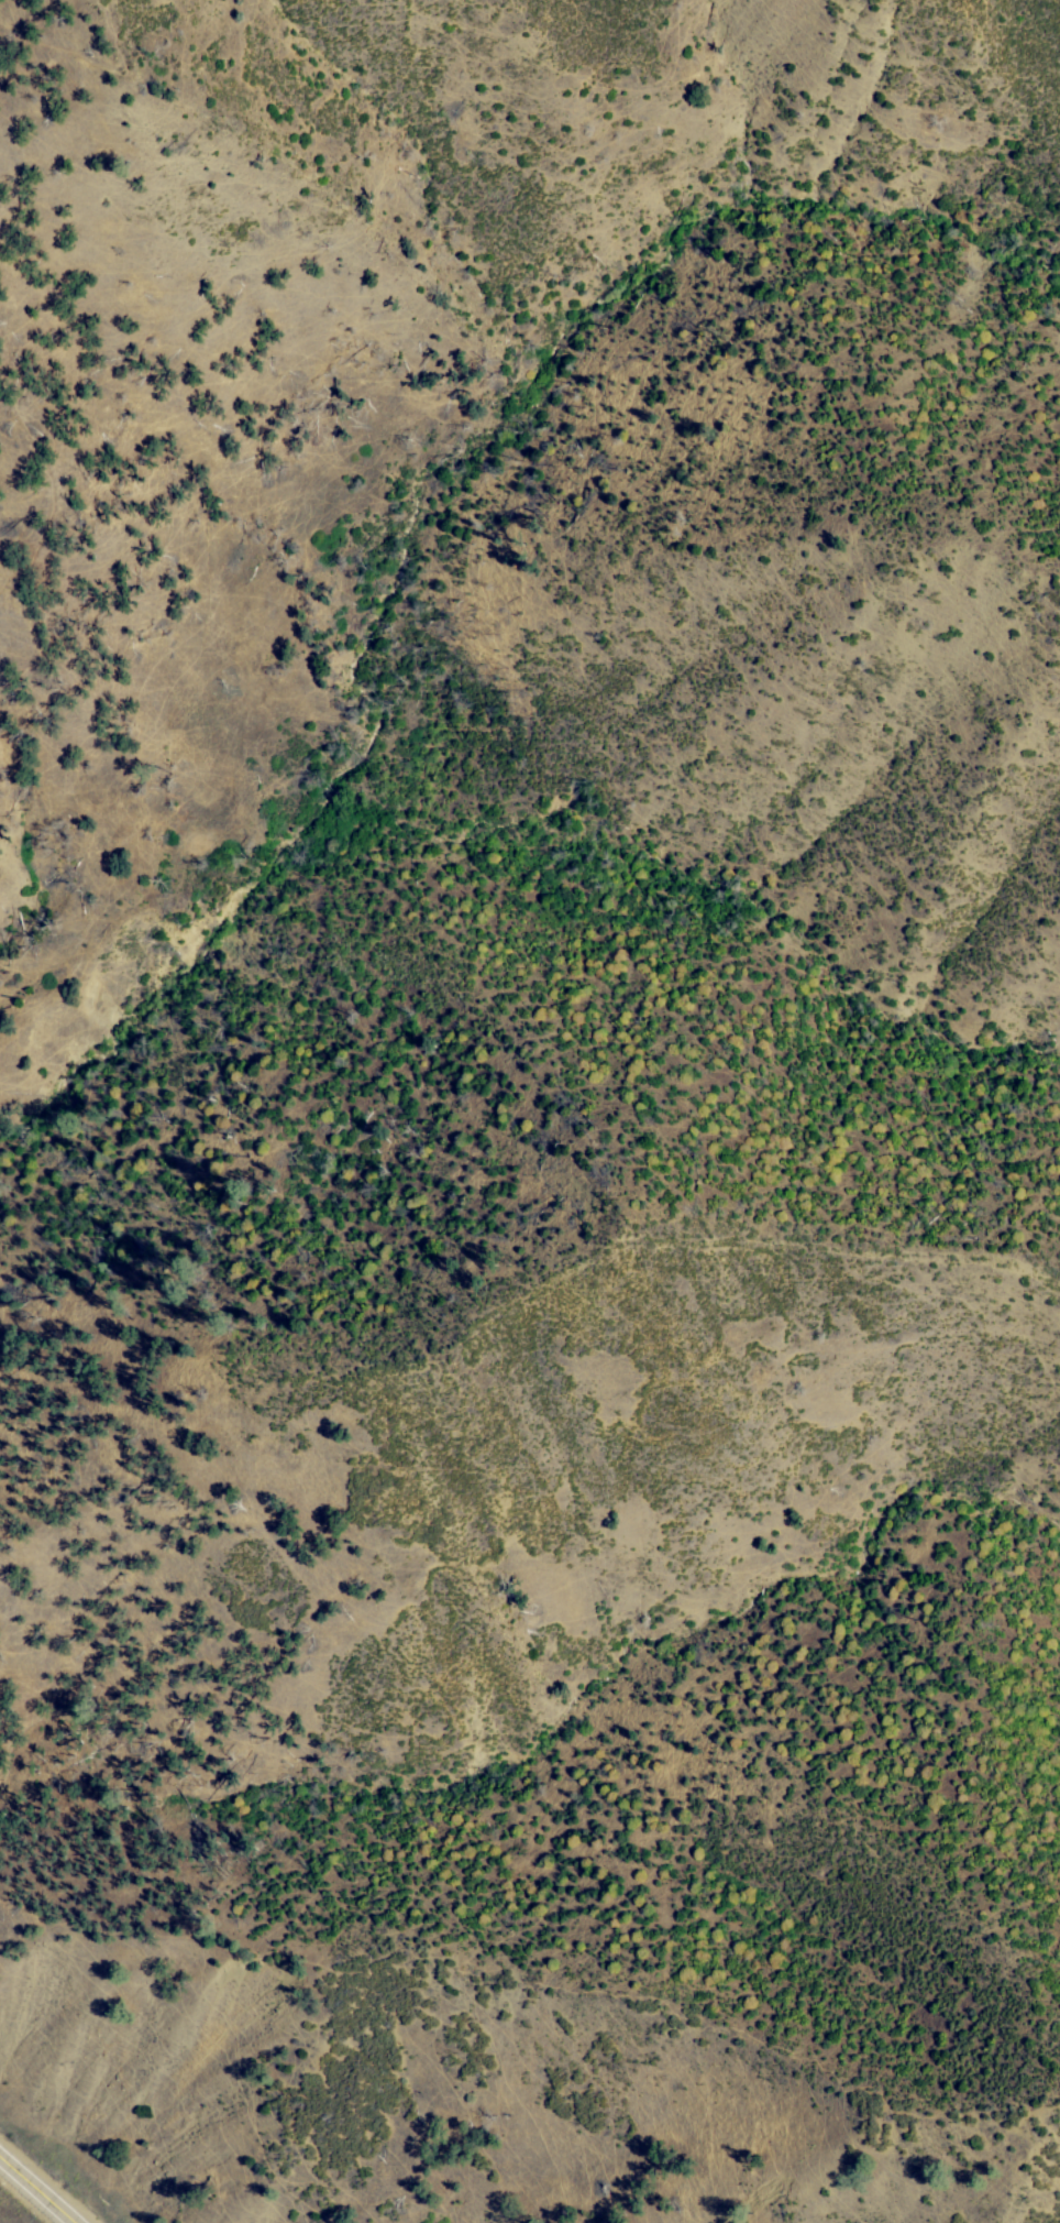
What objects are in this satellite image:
road: (33, 2193)

